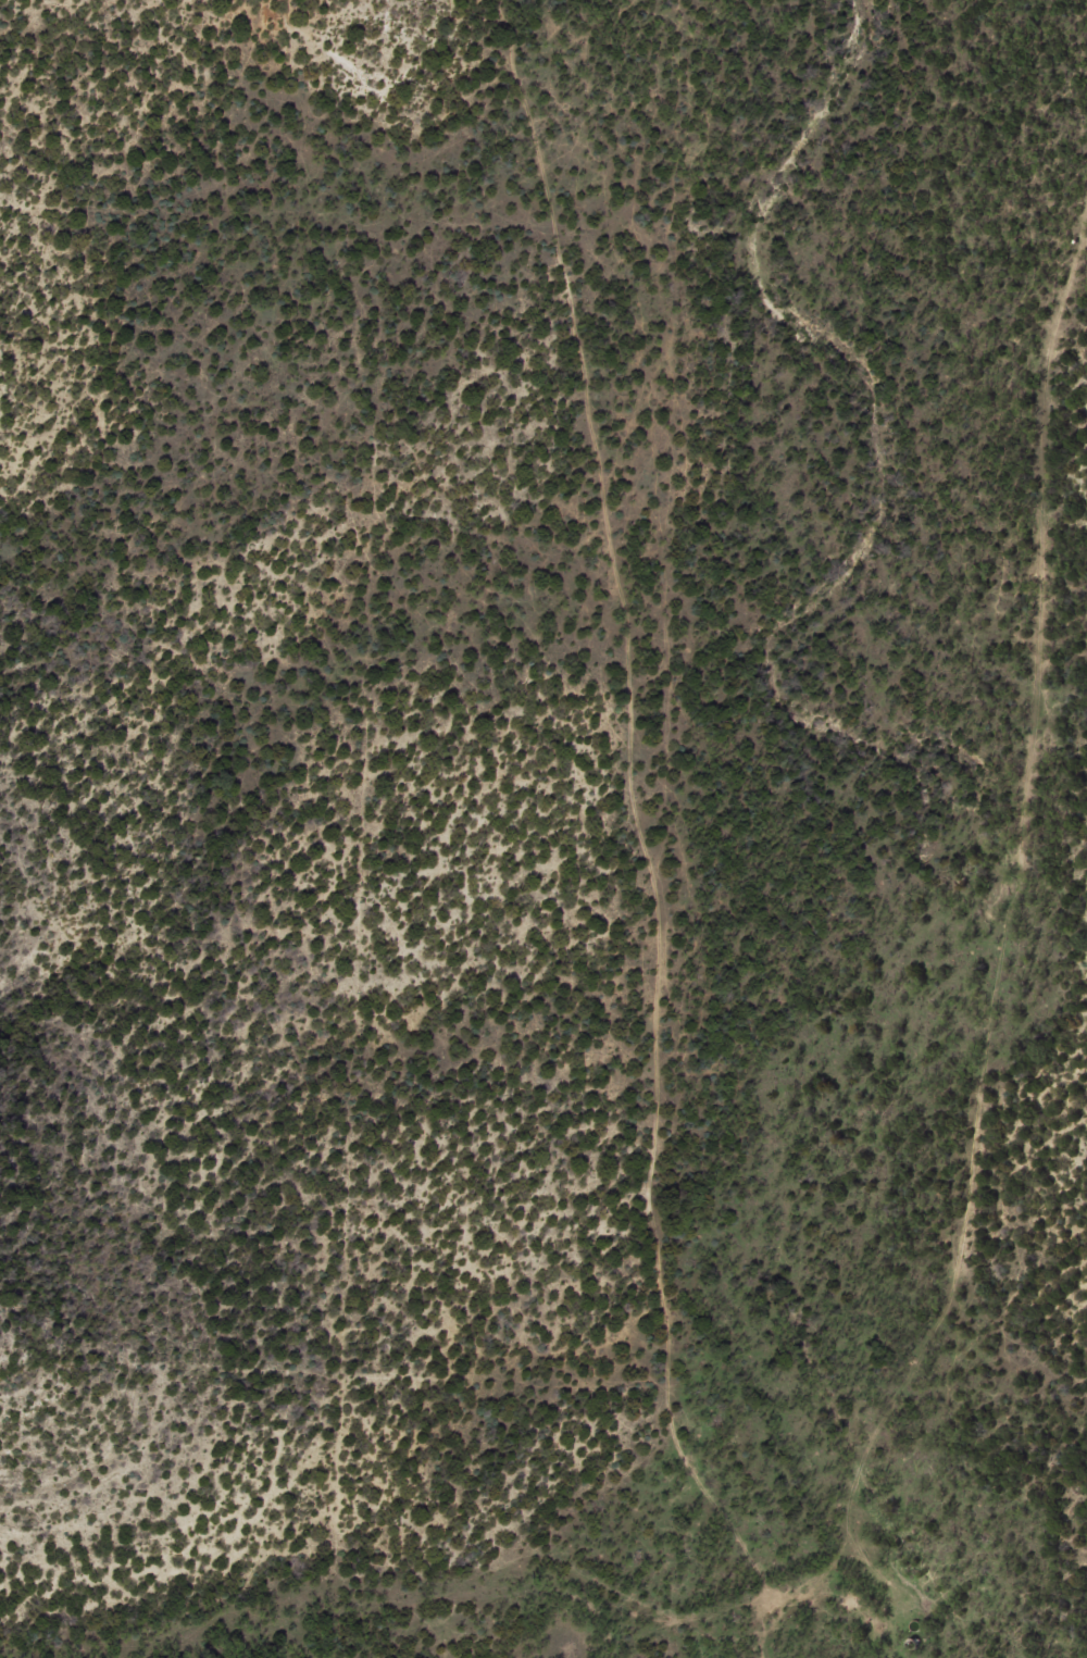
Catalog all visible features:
road: (1008, 949)

